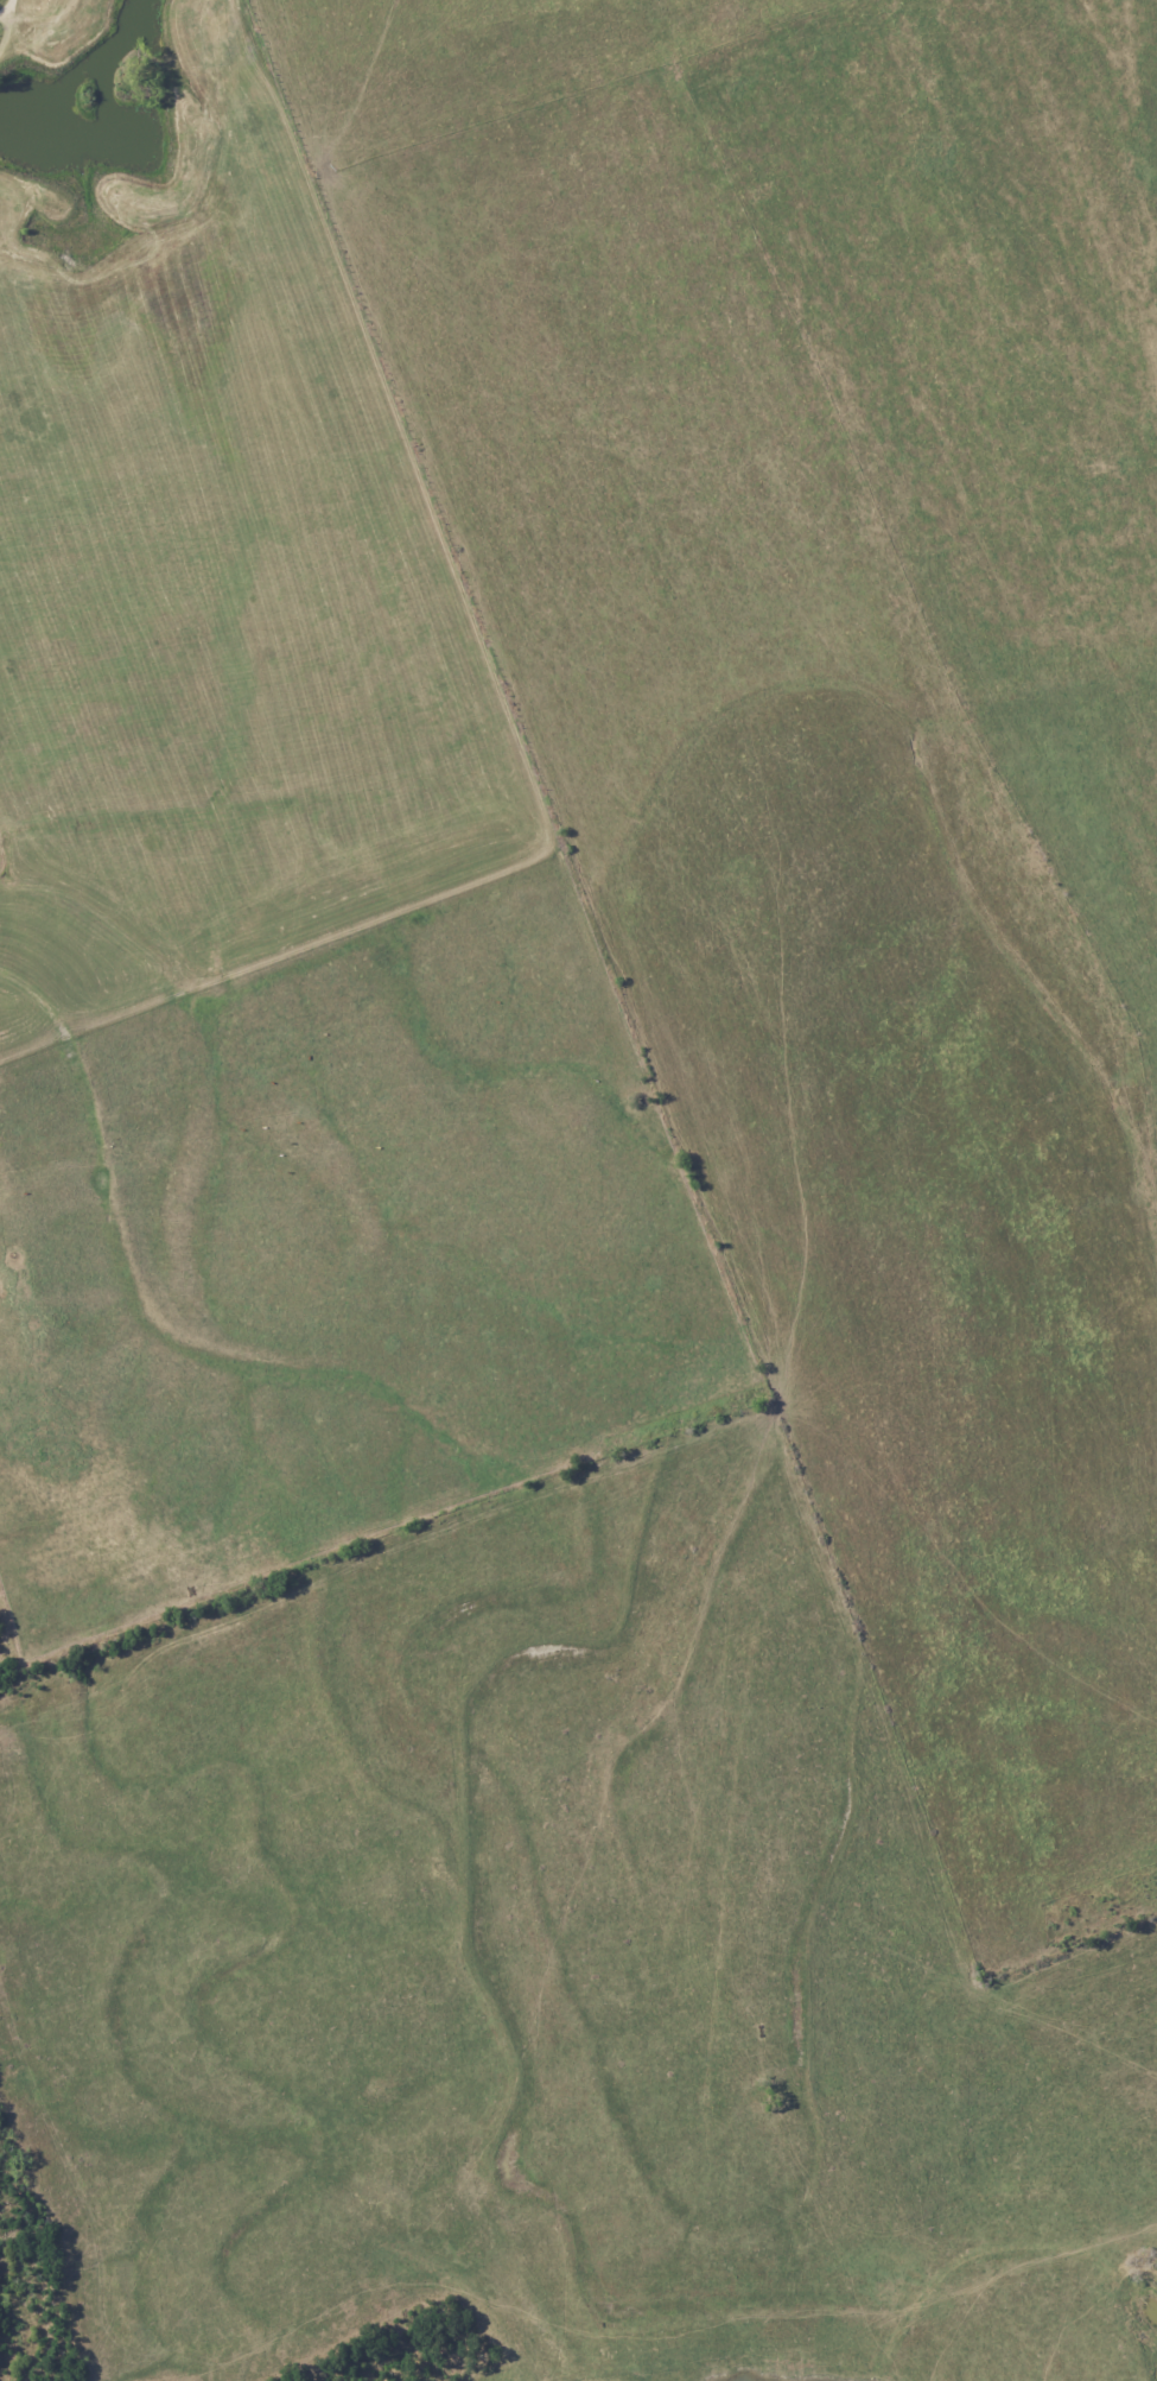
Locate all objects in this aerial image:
road: (8, 8)

